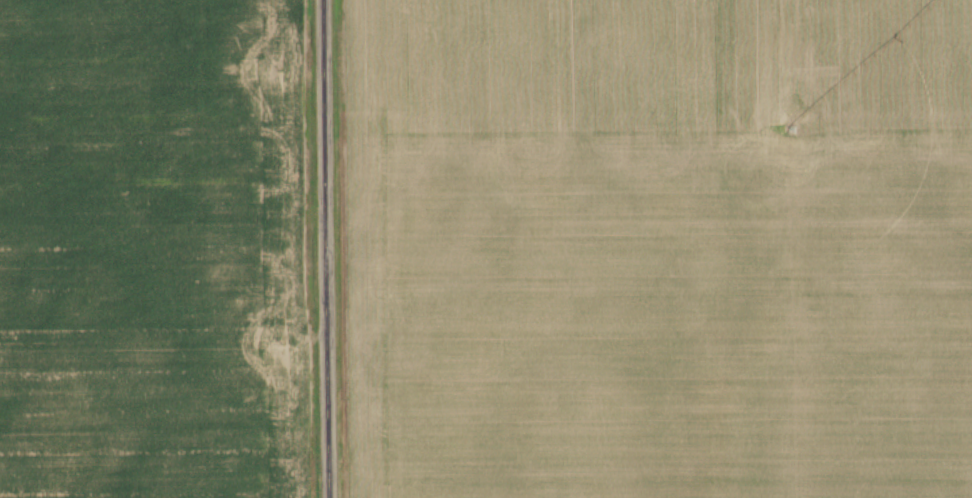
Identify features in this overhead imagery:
crop: (660, 248)
crop: (158, 249)
road: (331, 249)

